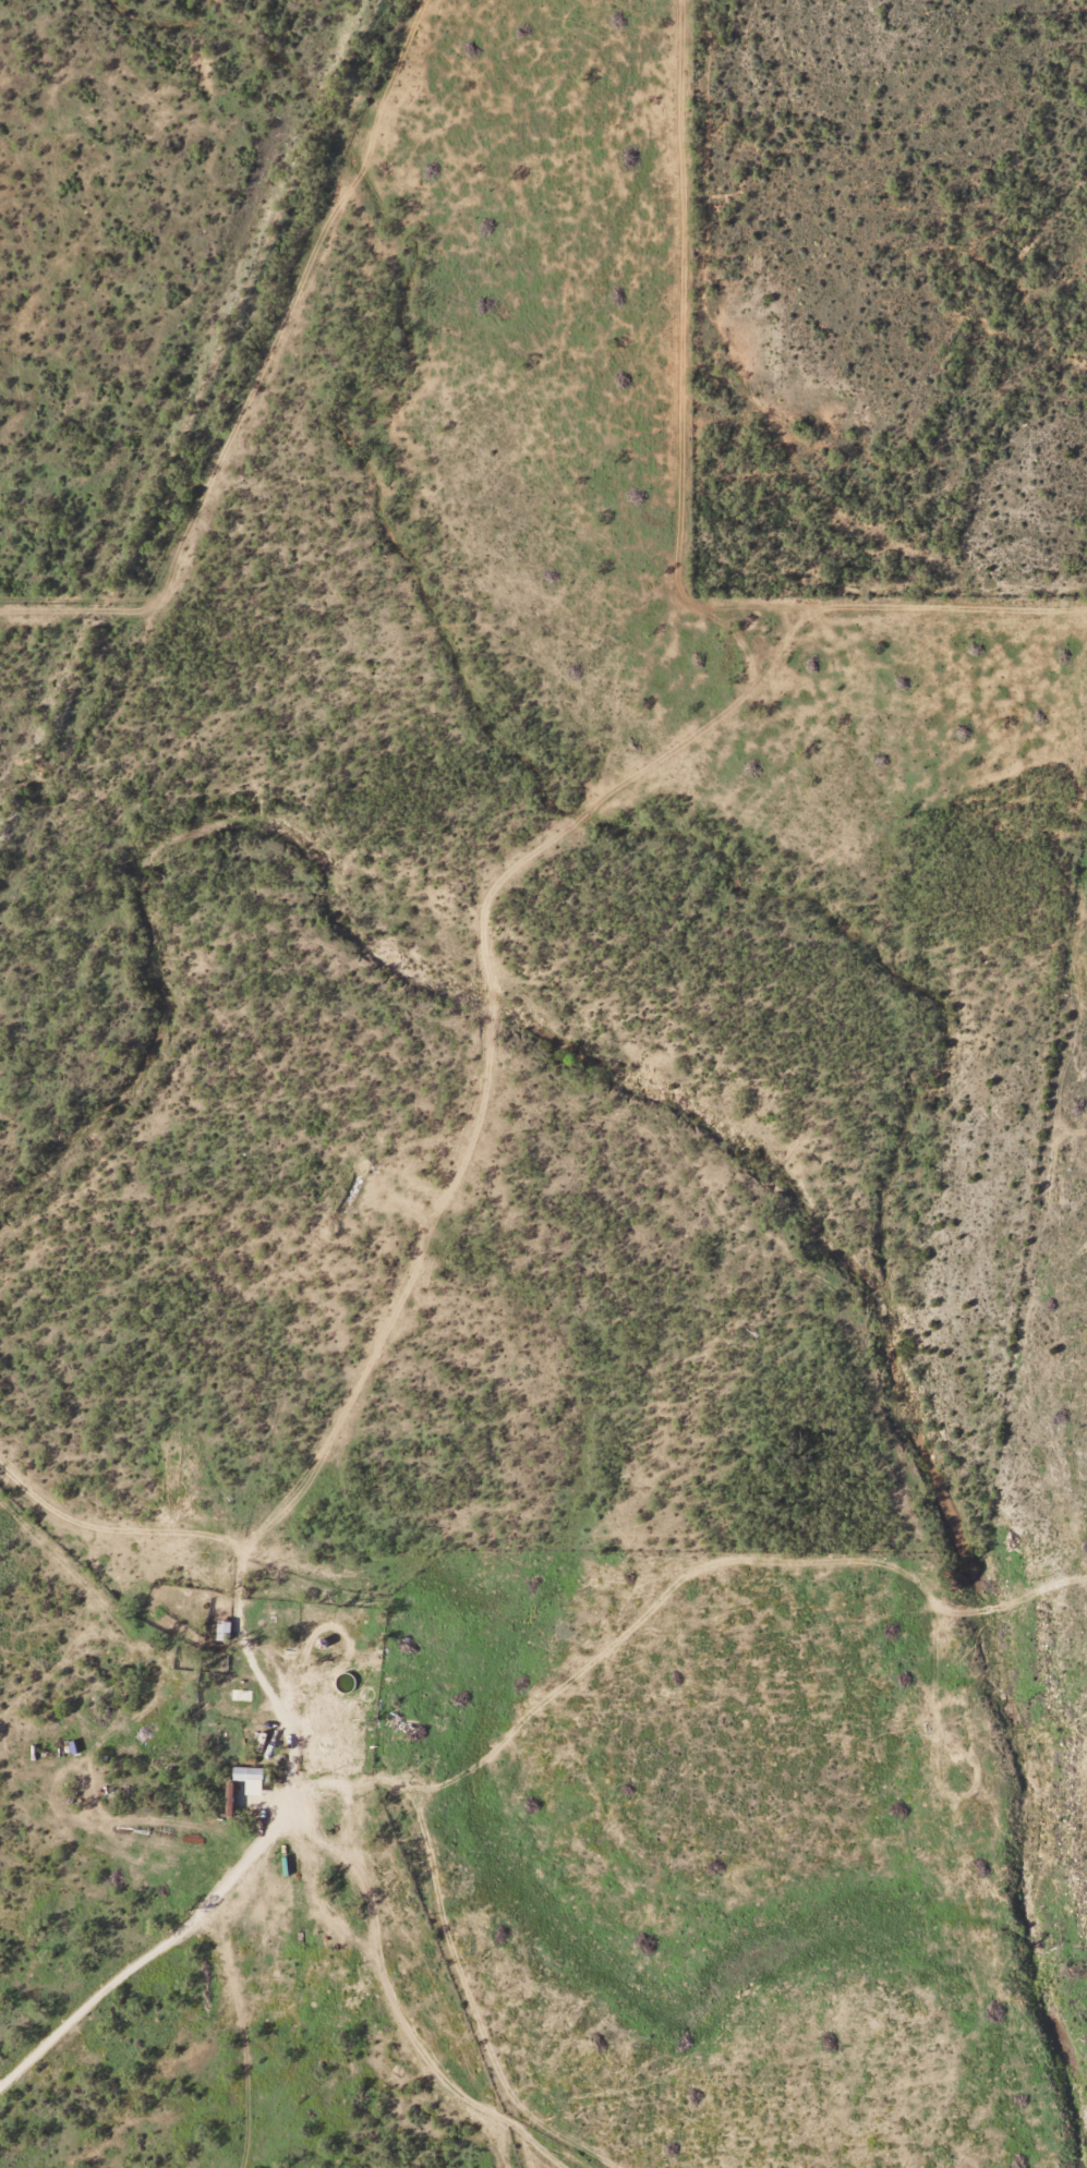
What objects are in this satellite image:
building: (253, 1779)

